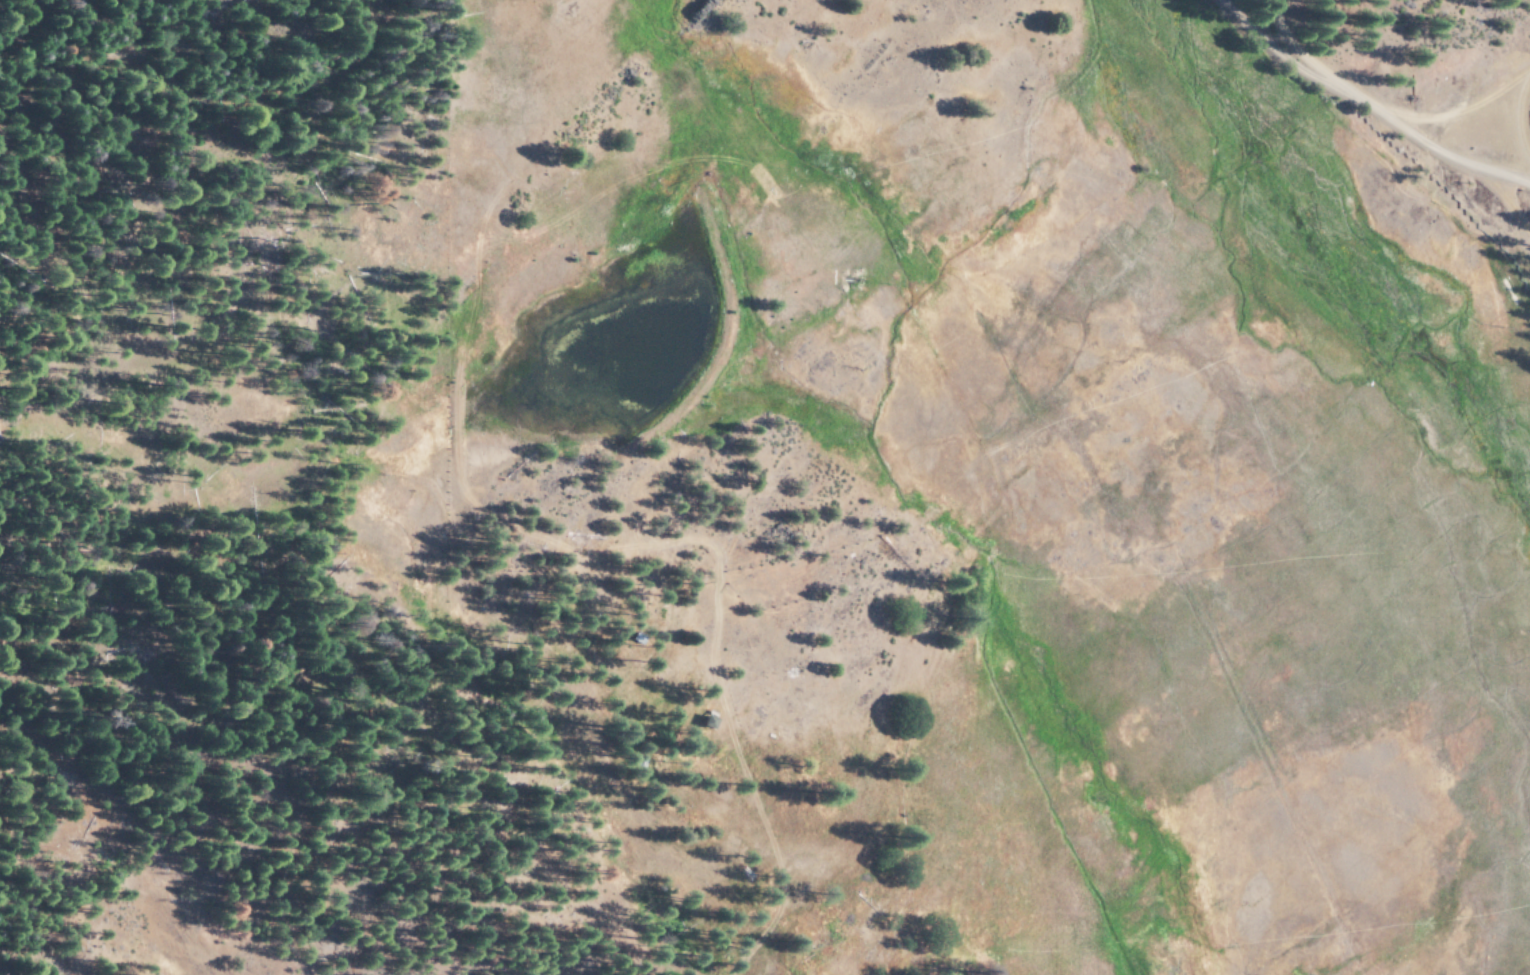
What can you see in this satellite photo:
building: (704, 722)

